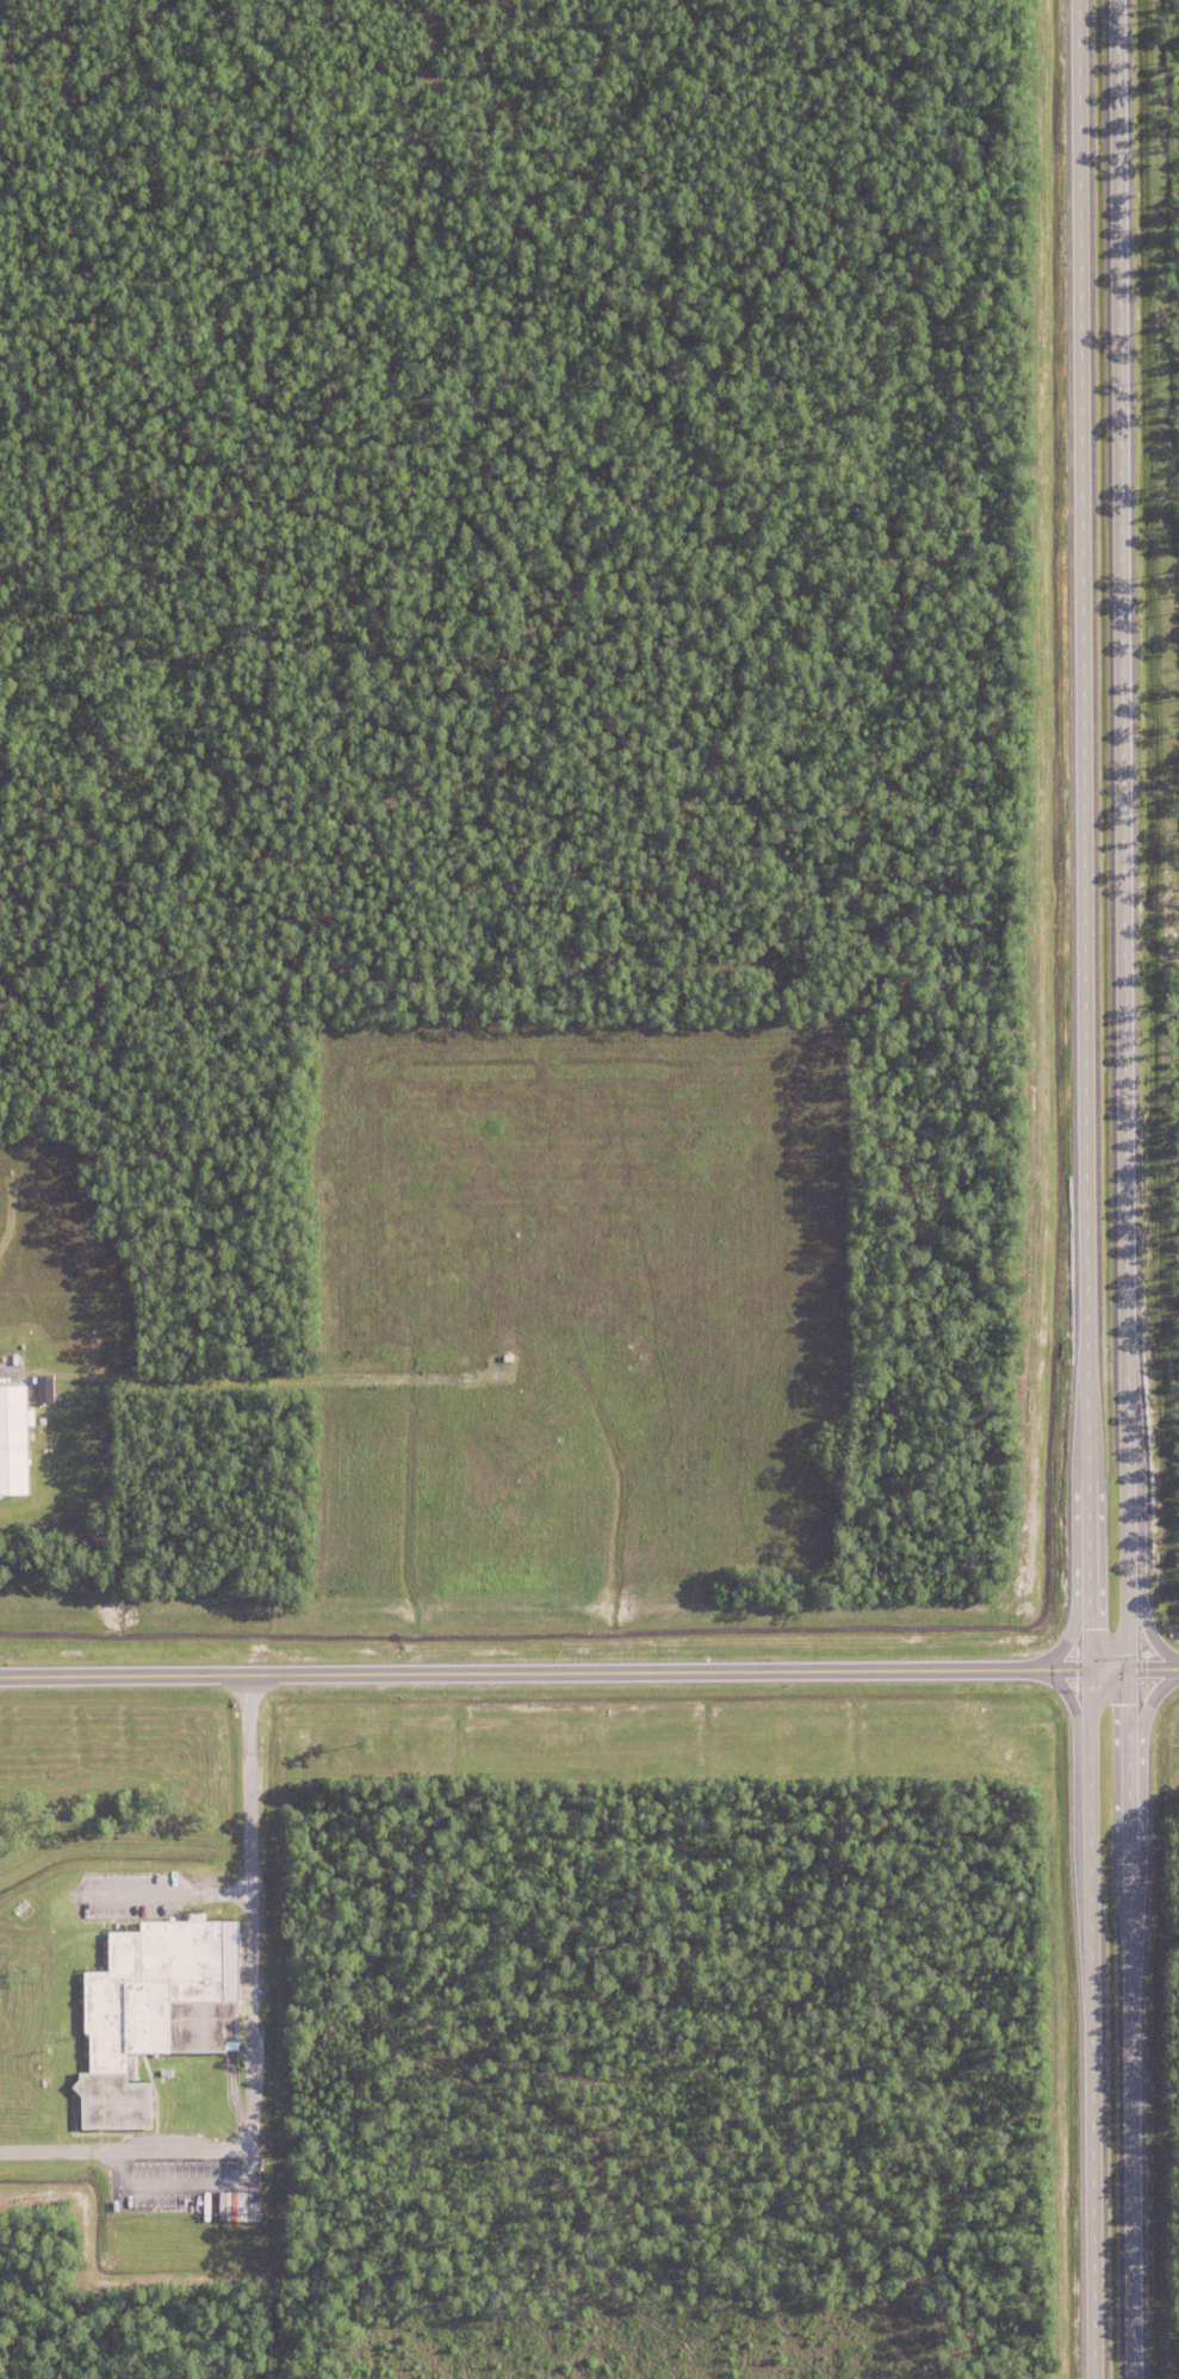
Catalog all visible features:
road: (1082, 1189)
road: (1121, 1189)
building: (41, 1388)
building: (13, 1444)
traffic signals: (1086, 1668)
traffic signals: (1124, 1668)
road: (589, 1671)
building: (142, 2009)
road: (249, 2032)
building: (242, 2206)

